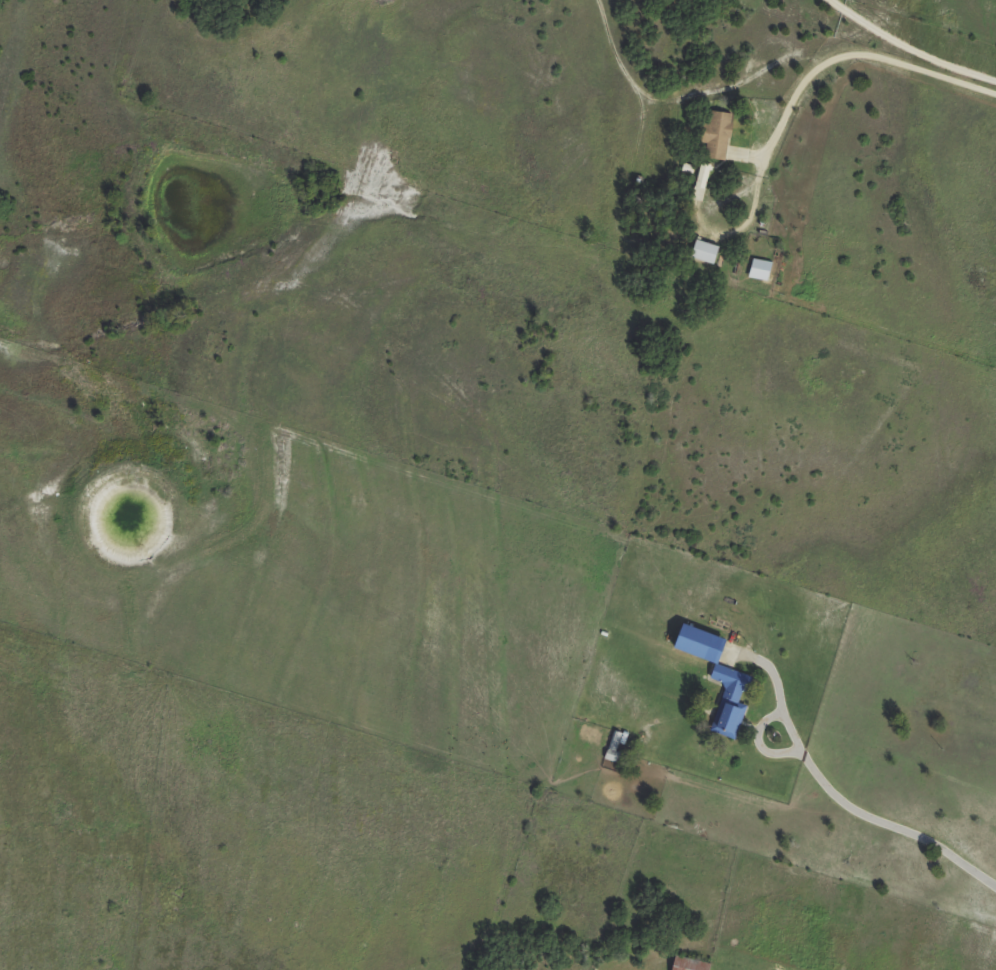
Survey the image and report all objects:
road: (909, 47)
road: (801, 78)
building: (719, 135)
building: (704, 251)
building: (758, 269)
building: (717, 672)
road: (887, 823)
building: (688, 964)

